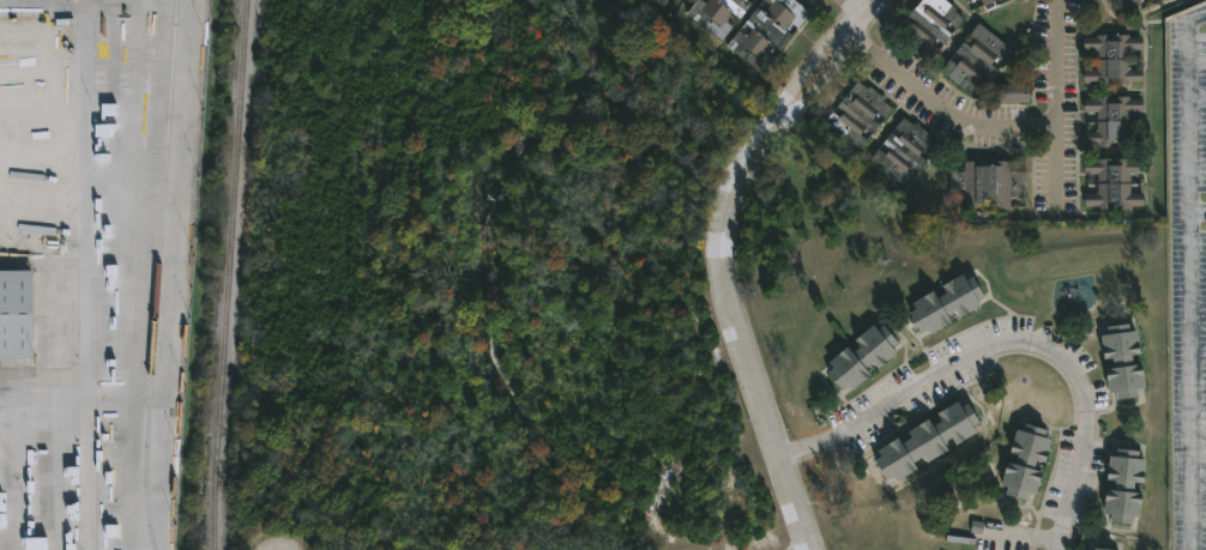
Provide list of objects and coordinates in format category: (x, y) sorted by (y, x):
building: (978, 0)
building: (964, 1)
building: (987, 1)
building: (1111, 1)
building: (1129, 4)
road: (852, 7)
building: (720, 14)
building: (927, 25)
building: (770, 31)
building: (973, 60)
building: (1110, 60)
road: (1055, 64)
building: (1009, 93)
road: (935, 105)
building: (862, 114)
road: (1188, 115)
building: (1110, 123)
building: (907, 151)
road: (1050, 158)
building: (984, 182)
building: (1111, 182)
road: (720, 258)
railway: (155, 274)
railway: (227, 274)
building: (940, 301)
building: (17, 314)
road: (1011, 337)
building: (856, 355)
building: (1117, 358)
road: (1190, 380)
building: (919, 440)
building: (1020, 460)
building: (1117, 484)
building: (1097, 548)

